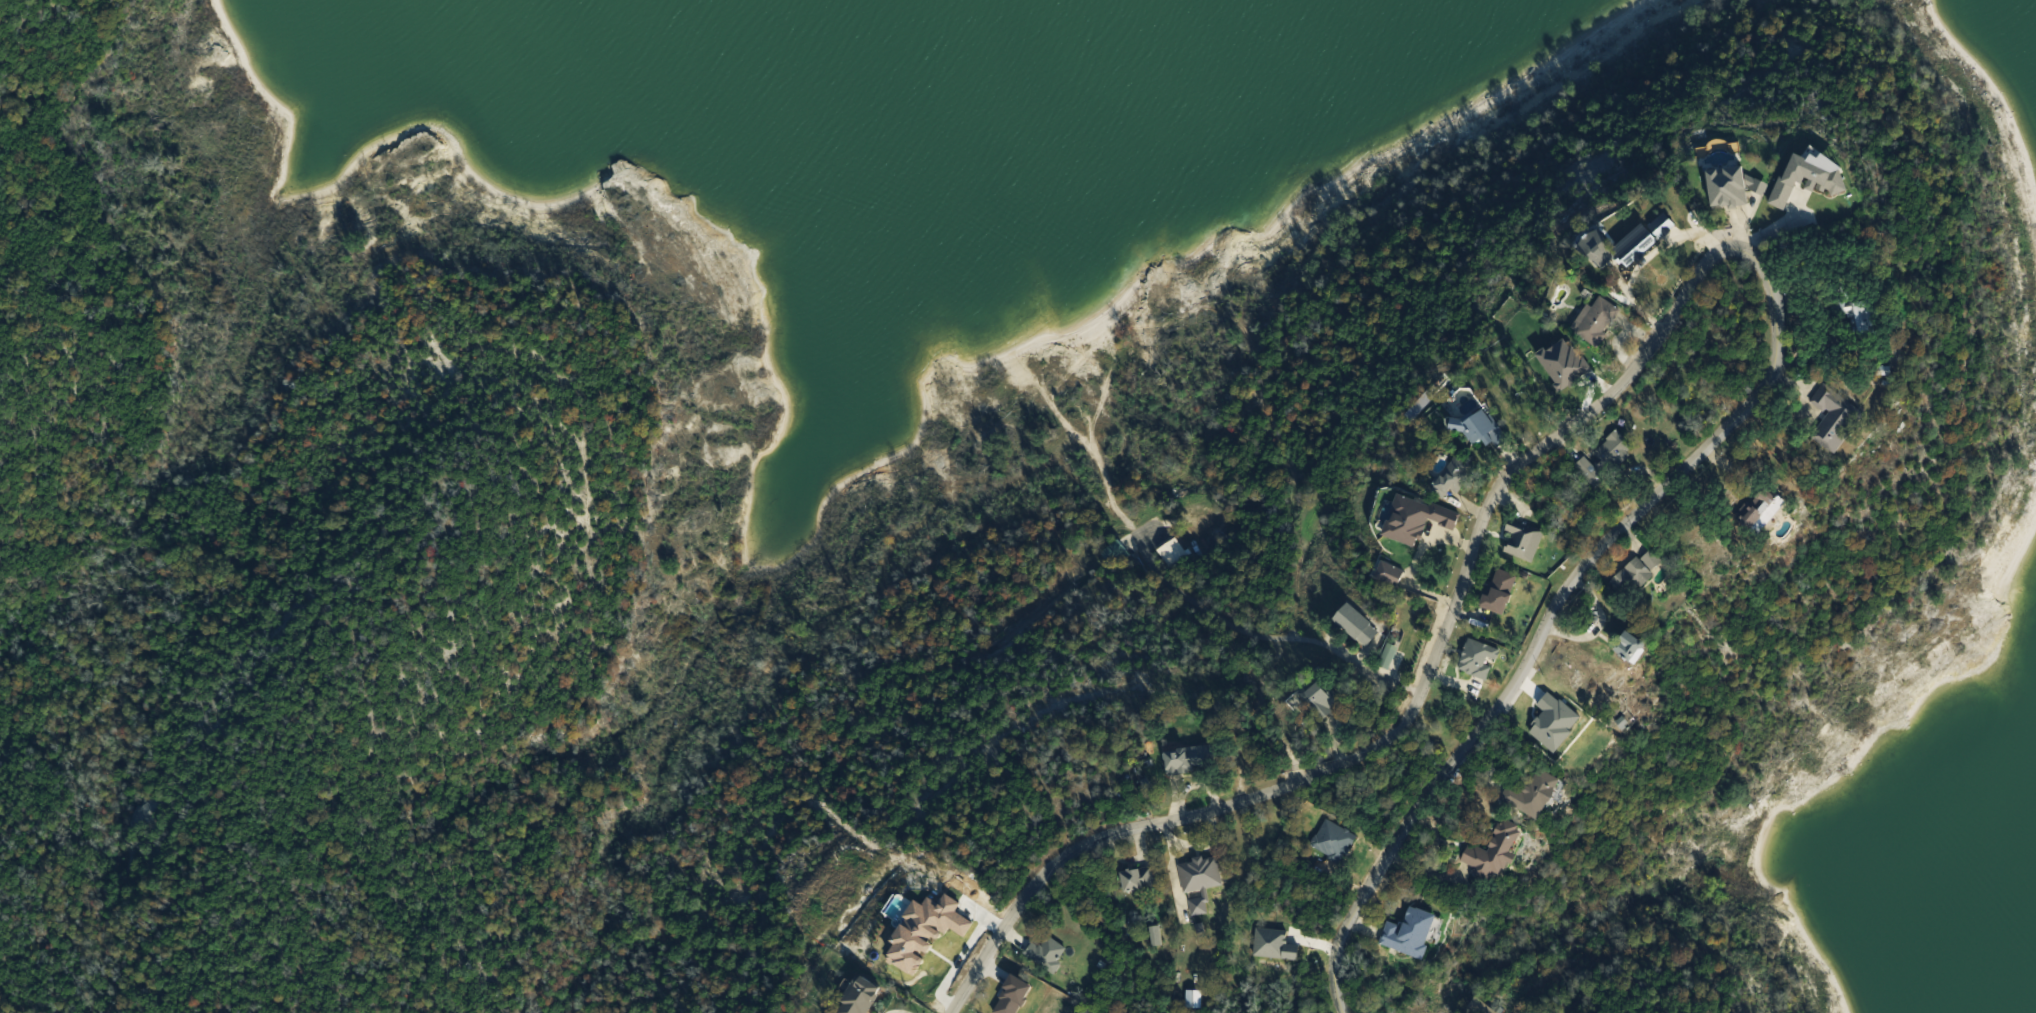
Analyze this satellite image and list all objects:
building: (1728, 187)
building: (1598, 252)
building: (1856, 314)
building: (1596, 320)
road: (1662, 330)
building: (1834, 417)
building: (1479, 425)
building: (1615, 448)
building: (1591, 471)
building: (1455, 475)
building: (1761, 508)
building: (1524, 538)
park: (348, 551)
building: (1115, 553)
building: (1172, 553)
building: (1639, 572)
building: (1357, 625)
building: (1632, 646)
building: (1388, 656)
building: (1478, 658)
building: (1322, 698)
building: (1191, 758)
building: (1534, 793)
building: (1495, 851)
building: (1200, 873)
building: (1139, 880)
building: (1199, 905)
building: (1411, 932)
building: (1047, 953)
building: (860, 996)
building: (1480, 1007)

